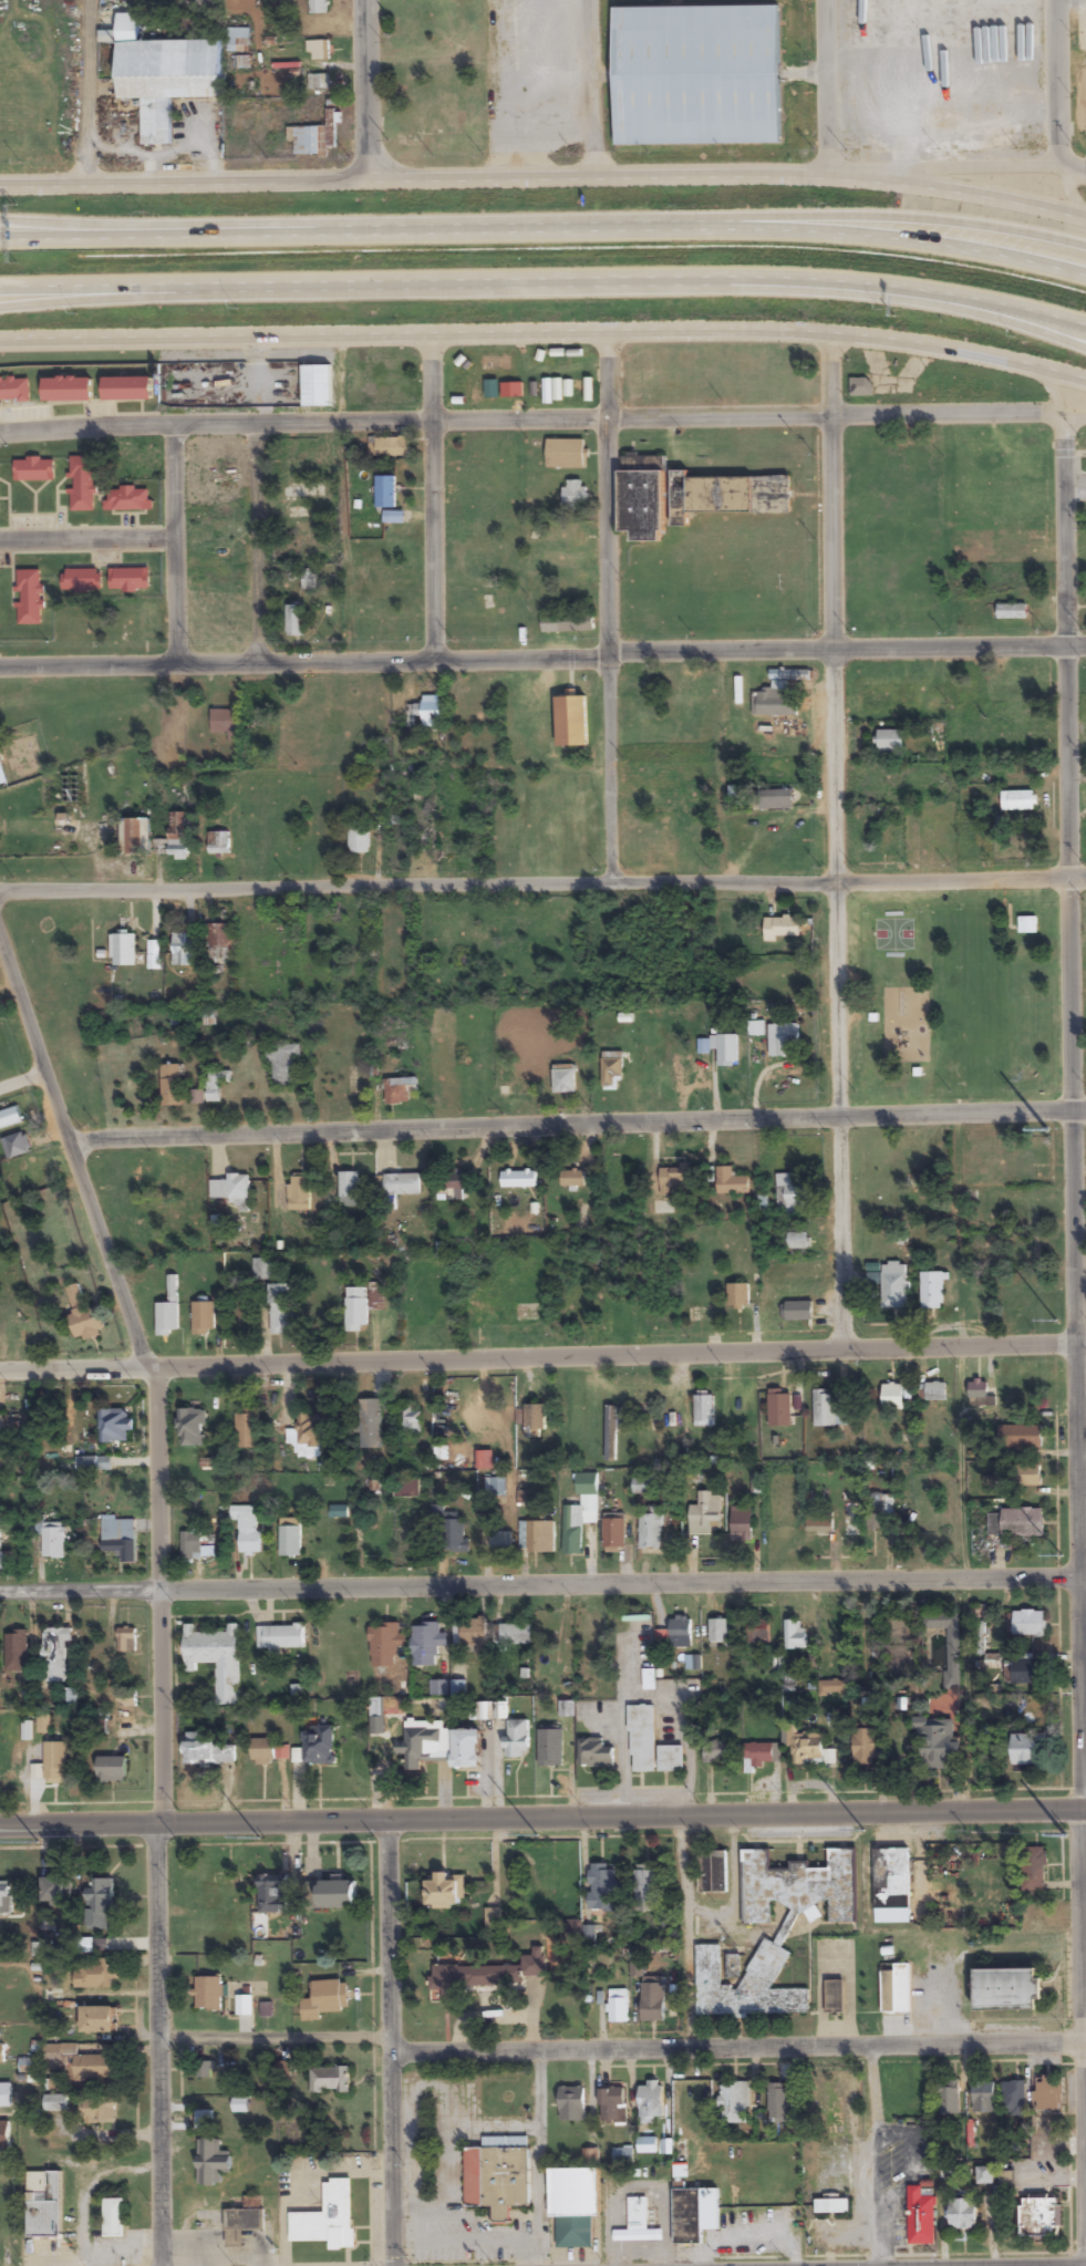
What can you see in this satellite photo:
building: (204, 3)
building: (318, 7)
building: (238, 40)
building: (318, 51)
building: (696, 76)
building: (164, 77)
building: (318, 83)
road: (1058, 83)
road: (824, 87)
road: (592, 90)
road: (365, 91)
road: (85, 92)
building: (309, 142)
road: (980, 166)
road: (545, 179)
road: (871, 217)
road: (545, 224)
road: (103, 226)
road: (546, 284)
road: (108, 296)
road: (1014, 324)
road: (545, 333)
building: (317, 387)
building: (861, 387)
building: (66, 390)
building: (127, 390)
building: (14, 391)
road: (530, 418)
building: (389, 448)
building: (565, 454)
building: (142, 464)
building: (33, 469)
building: (82, 484)
building: (697, 490)
building: (302, 492)
building: (384, 493)
building: (575, 496)
road: (435, 498)
building: (128, 499)
building: (215, 527)
building: (569, 539)
road: (89, 541)
road: (177, 545)
road: (259, 545)
building: (220, 575)
building: (82, 580)
building: (128, 580)
building: (29, 598)
road: (610, 608)
building: (1011, 612)
building: (147, 621)
building: (294, 622)
building: (567, 624)
road: (542, 658)
building: (690, 689)
building: (779, 694)
building: (888, 700)
building: (432, 713)
building: (571, 722)
building: (226, 724)
building: (890, 741)
building: (770, 774)
building: (692, 797)
building: (775, 799)
building: (1017, 801)
building: (132, 837)
building: (932, 837)
building: (173, 839)
building: (359, 840)
building: (421, 841)
road: (836, 841)
building: (218, 844)
road: (542, 886)
building: (1027, 925)
building: (782, 929)
building: (216, 939)
building: (122, 948)
building: (183, 950)
park: (953, 996)
building: (784, 1041)
building: (725, 1049)
building: (283, 1064)
road: (22, 1070)
building: (612, 1072)
building: (507, 1079)
building: (563, 1079)
building: (690, 1080)
building: (216, 1085)
building: (172, 1087)
building: (400, 1090)
building: (137, 1095)
road: (577, 1126)
power tower: (1048, 1126)
building: (15, 1145)
road: (72, 1152)
building: (27, 1173)
building: (518, 1179)
building: (572, 1179)
building: (675, 1180)
building: (731, 1182)
building: (403, 1186)
building: (349, 1188)
building: (453, 1188)
building: (232, 1190)
building: (299, 1192)
building: (789, 1193)
building: (664, 1210)
building: (168, 1222)
building: (797, 1240)
building: (261, 1269)
building: (873, 1279)
building: (893, 1285)
building: (932, 1290)
building: (737, 1295)
building: (356, 1307)
building: (281, 1308)
building: (168, 1310)
building: (799, 1311)
building: (479, 1313)
building: (84, 1315)
building: (204, 1317)
power tower: (1056, 1318)
road: (1075, 1318)
building: (22, 1334)
road: (542, 1358)
building: (978, 1390)
building: (935, 1391)
building: (892, 1397)
building: (779, 1407)
building: (827, 1409)
building: (703, 1410)
building: (412, 1421)
building: (535, 1421)
building: (371, 1422)
building: (115, 1426)
building: (192, 1427)
building: (309, 1427)
building: (248, 1430)
building: (611, 1432)
building: (1020, 1436)
building: (1026, 1476)
building: (643, 1486)
building: (406, 1487)
building: (495, 1488)
building: (580, 1513)
building: (706, 1514)
building: (875, 1518)
building: (819, 1522)
building: (1016, 1522)
building: (741, 1524)
building: (651, 1528)
building: (248, 1530)
building: (613, 1531)
building: (454, 1532)
building: (536, 1535)
building: (290, 1536)
building: (0, 1539)
building: (120, 1539)
building: (500, 1541)
building: (53, 1542)
building: (189, 1545)
power tower: (1062, 1555)
road: (542, 1587)
building: (1028, 1623)
building: (681, 1631)
building: (718, 1631)
building: (758, 1633)
building: (515, 1634)
building: (795, 1634)
building: (280, 1636)
building: (472, 1636)
building: (126, 1639)
building: (426, 1643)
building: (385, 1644)
building: (949, 1645)
building: (15, 1651)
building: (54, 1654)
building: (216, 1659)
building: (1025, 1672)
building: (648, 1679)
building: (438, 1687)
building: (458, 1688)
building: (70, 1697)
building: (484, 1709)
building: (383, 1713)
building: (516, 1738)
building: (642, 1739)
building: (937, 1741)
building: (424, 1742)
building: (318, 1746)
building: (550, 1746)
building: (805, 1747)
building: (865, 1747)
building: (465, 1748)
building: (207, 1750)
building: (1028, 1750)
building: (265, 1751)
building: (717, 1752)
building: (594, 1753)
building: (761, 1753)
building: (671, 1758)
building: (56, 1762)
building: (111, 1769)
road: (157, 1818)
road: (542, 1818)
power tower: (862, 1828)
power tower: (537, 1831)
power tower: (1066, 1833)
power tower: (258, 1836)
power tower: (39, 1841)
building: (1034, 1866)
building: (712, 1871)
building: (891, 1877)
building: (602, 1887)
building: (56, 1889)
building: (645, 1890)
building: (445, 1893)
building: (272, 1894)
building: (337, 1894)
building: (4, 1897)
building: (99, 1901)
building: (1037, 1917)
building: (784, 1932)
building: (505, 1974)
building: (93, 1975)
building: (896, 1989)
building: (1006, 1989)
building: (208, 1994)
building: (834, 1996)
building: (324, 1999)
building: (653, 1999)
building: (244, 2006)
building: (618, 2006)
building: (99, 2019)
road: (389, 2043)
building: (1, 2047)
road: (621, 2055)
building: (82, 2061)
building: (206, 2070)
building: (330, 2080)
building: (6, 2096)
building: (1048, 2096)
building: (949, 2098)
building: (1013, 2098)
building: (983, 2099)
building: (651, 2100)
building: (56, 2103)
building: (571, 2103)
building: (734, 2103)
building: (777, 2103)
building: (611, 2104)
building: (691, 2104)
building: (99, 2111)
building: (205, 2119)
building: (4, 2135)
building: (647, 2145)
building: (681, 2151)
building: (622, 2155)
building: (211, 2162)
building: (832, 2169)
building: (497, 2175)
building: (985, 2175)
building: (43, 2204)
building: (573, 2204)
building: (963, 2213)
building: (694, 2214)
building: (1, 2215)
building: (113, 2217)
building: (328, 2218)
building: (1038, 2218)
building: (921, 2220)
building: (237, 2225)
building: (638, 2234)

